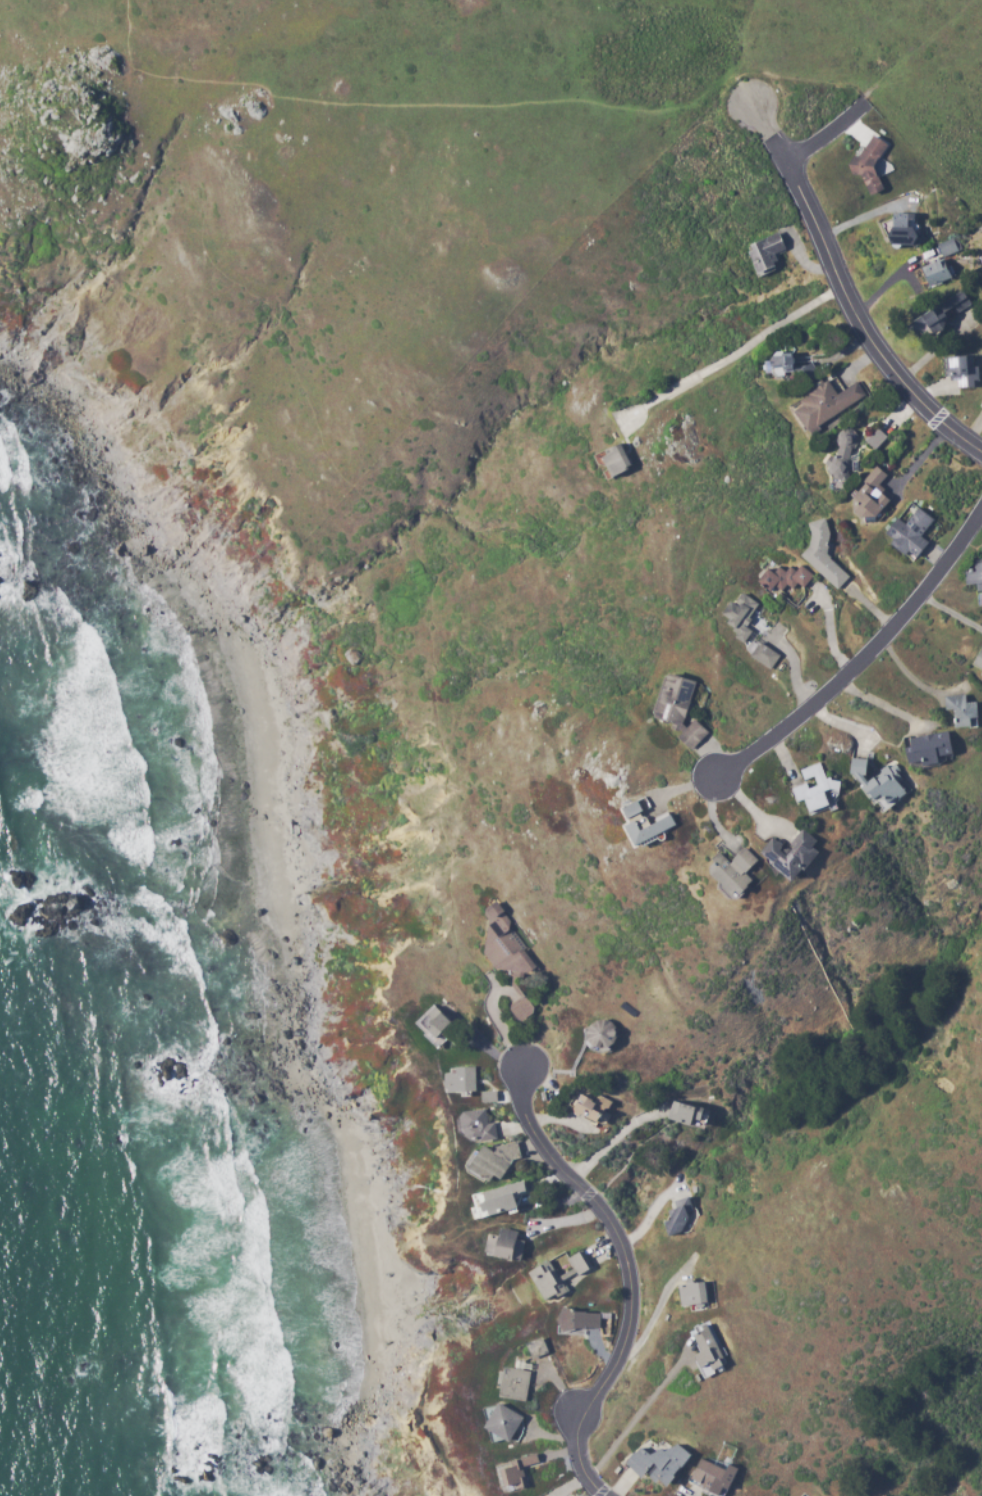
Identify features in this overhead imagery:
road: (916, 50)
road: (804, 81)
road: (402, 106)
road: (826, 136)
building: (867, 166)
building: (901, 231)
building: (947, 247)
building: (764, 255)
building: (935, 272)
road: (844, 294)
building: (943, 315)
building: (963, 370)
building: (980, 405)
building: (828, 406)
building: (874, 439)
building: (612, 462)
building: (908, 535)
building: (981, 553)
building: (974, 578)
road: (863, 659)
building: (978, 661)
building: (959, 713)
building: (497, 1200)
building: (504, 1245)
road: (629, 1275)
building: (696, 1294)
building: (707, 1350)
building: (513, 1384)
building: (504, 1423)
building: (659, 1464)
building: (513, 1473)
building: (710, 1477)

